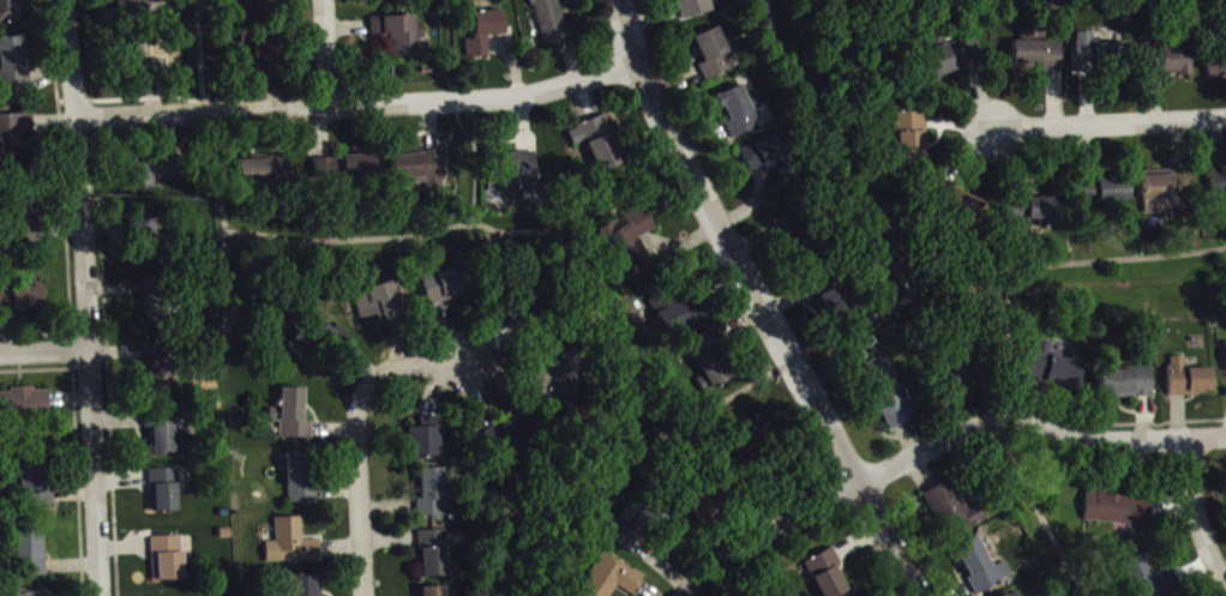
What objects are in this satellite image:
building: (259, 0)
building: (133, 6)
building: (698, 8)
building: (10, 12)
building: (555, 25)
building: (487, 34)
building: (401, 35)
road: (329, 52)
road: (198, 55)
building: (268, 55)
building: (1101, 55)
building: (716, 56)
building: (955, 58)
building: (1039, 58)
building: (1174, 62)
building: (13, 64)
building: (146, 64)
building: (1218, 67)
road: (360, 103)
building: (740, 113)
road: (463, 114)
road: (1111, 122)
building: (17, 137)
building: (913, 138)
building: (601, 145)
building: (774, 159)
building: (362, 168)
building: (329, 169)
building: (287, 170)
building: (422, 170)
building: (152, 171)
building: (257, 175)
building: (515, 176)
building: (1220, 187)
road: (859, 191)
building: (1168, 192)
building: (1108, 195)
building: (1046, 211)
building: (25, 216)
road: (557, 231)
building: (152, 242)
building: (632, 243)
road: (1039, 265)
building: (447, 288)
building: (834, 294)
road: (86, 297)
building: (23, 301)
road: (761, 301)
building: (157, 302)
building: (527, 302)
building: (383, 306)
building: (681, 313)
road: (866, 323)
building: (311, 339)
road: (44, 351)
building: (711, 363)
building: (1057, 369)
building: (960, 372)
building: (564, 377)
building: (1191, 380)
building: (1129, 385)
building: (889, 396)
building: (25, 404)
road: (704, 415)
building: (294, 417)
road: (1034, 421)
road: (1113, 423)
building: (167, 433)
building: (517, 435)
road: (360, 439)
building: (431, 440)
building: (302, 480)
building: (37, 484)
building: (166, 492)
building: (434, 494)
building: (705, 506)
building: (955, 510)
road: (1042, 511)
building: (1119, 511)
road: (1197, 511)
building: (632, 529)
road: (699, 532)
road: (768, 536)
building: (293, 546)
building: (34, 555)
building: (437, 555)
building: (169, 560)
building: (984, 567)
building: (829, 576)
building: (613, 579)
building: (1153, 579)
building: (309, 586)
building: (435, 592)
building: (49, 595)
building: (1017, 595)

